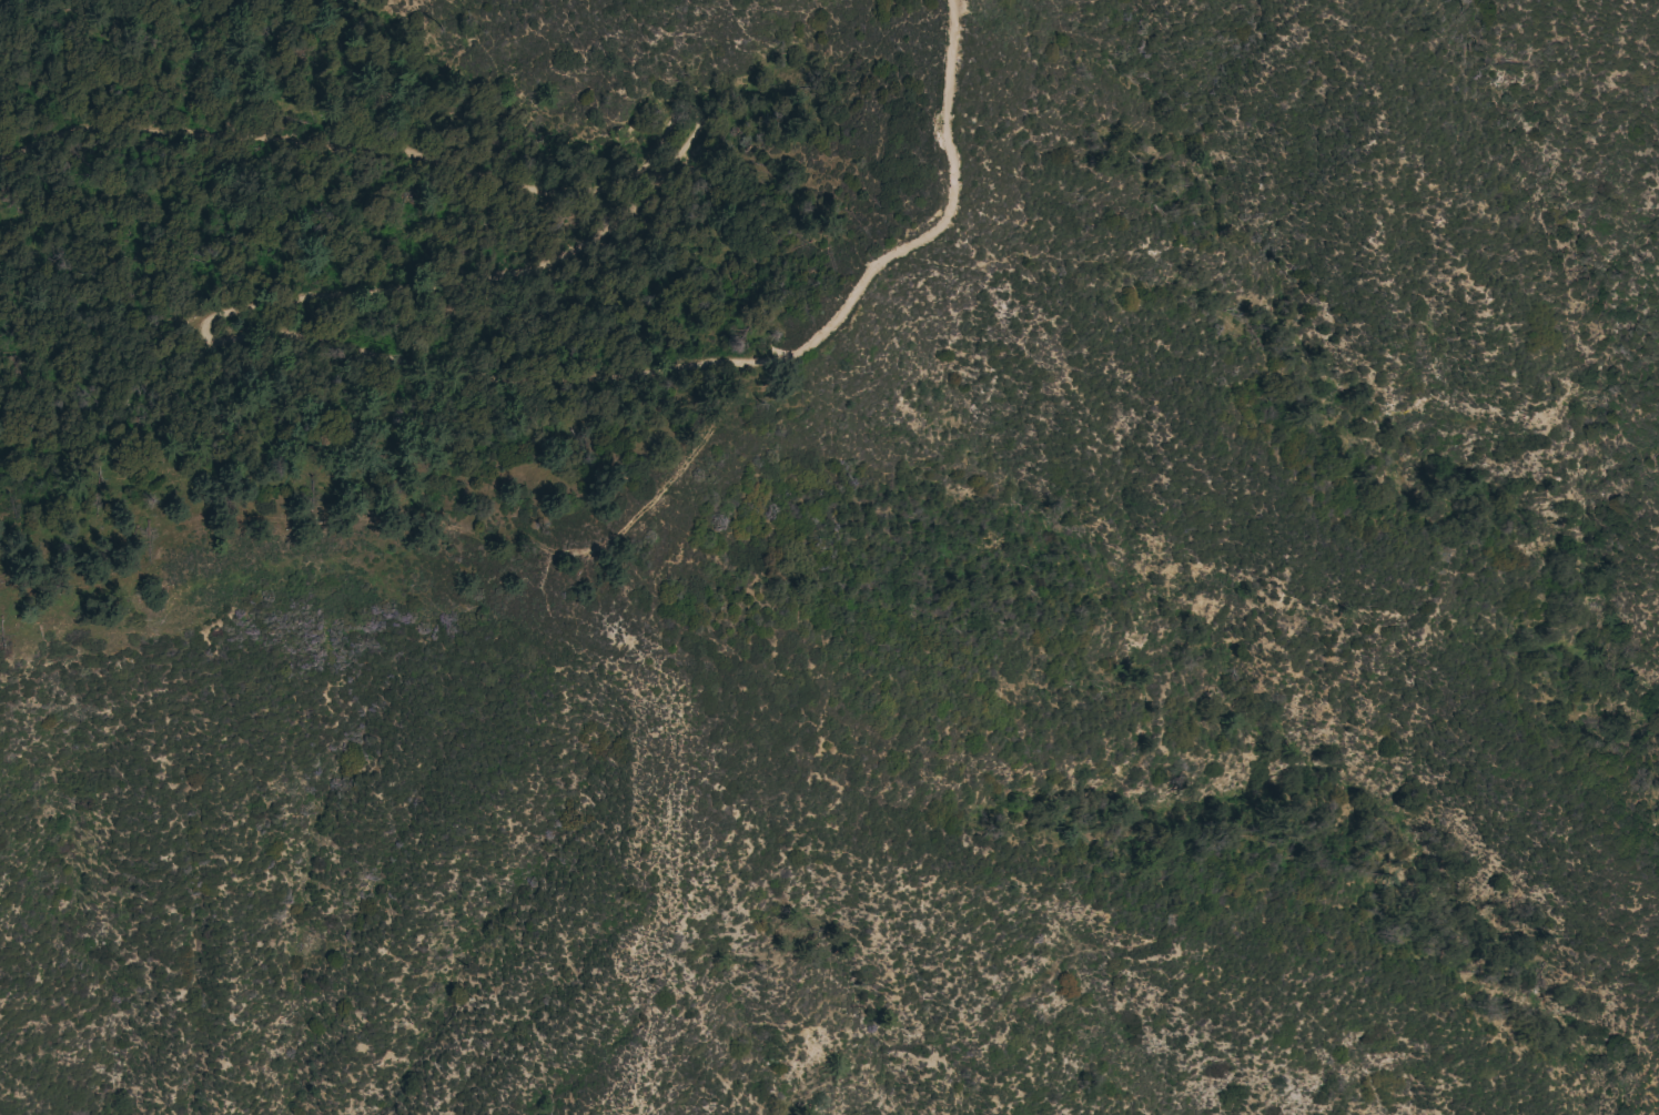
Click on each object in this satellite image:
road: (340, 296)
road: (1143, 686)

